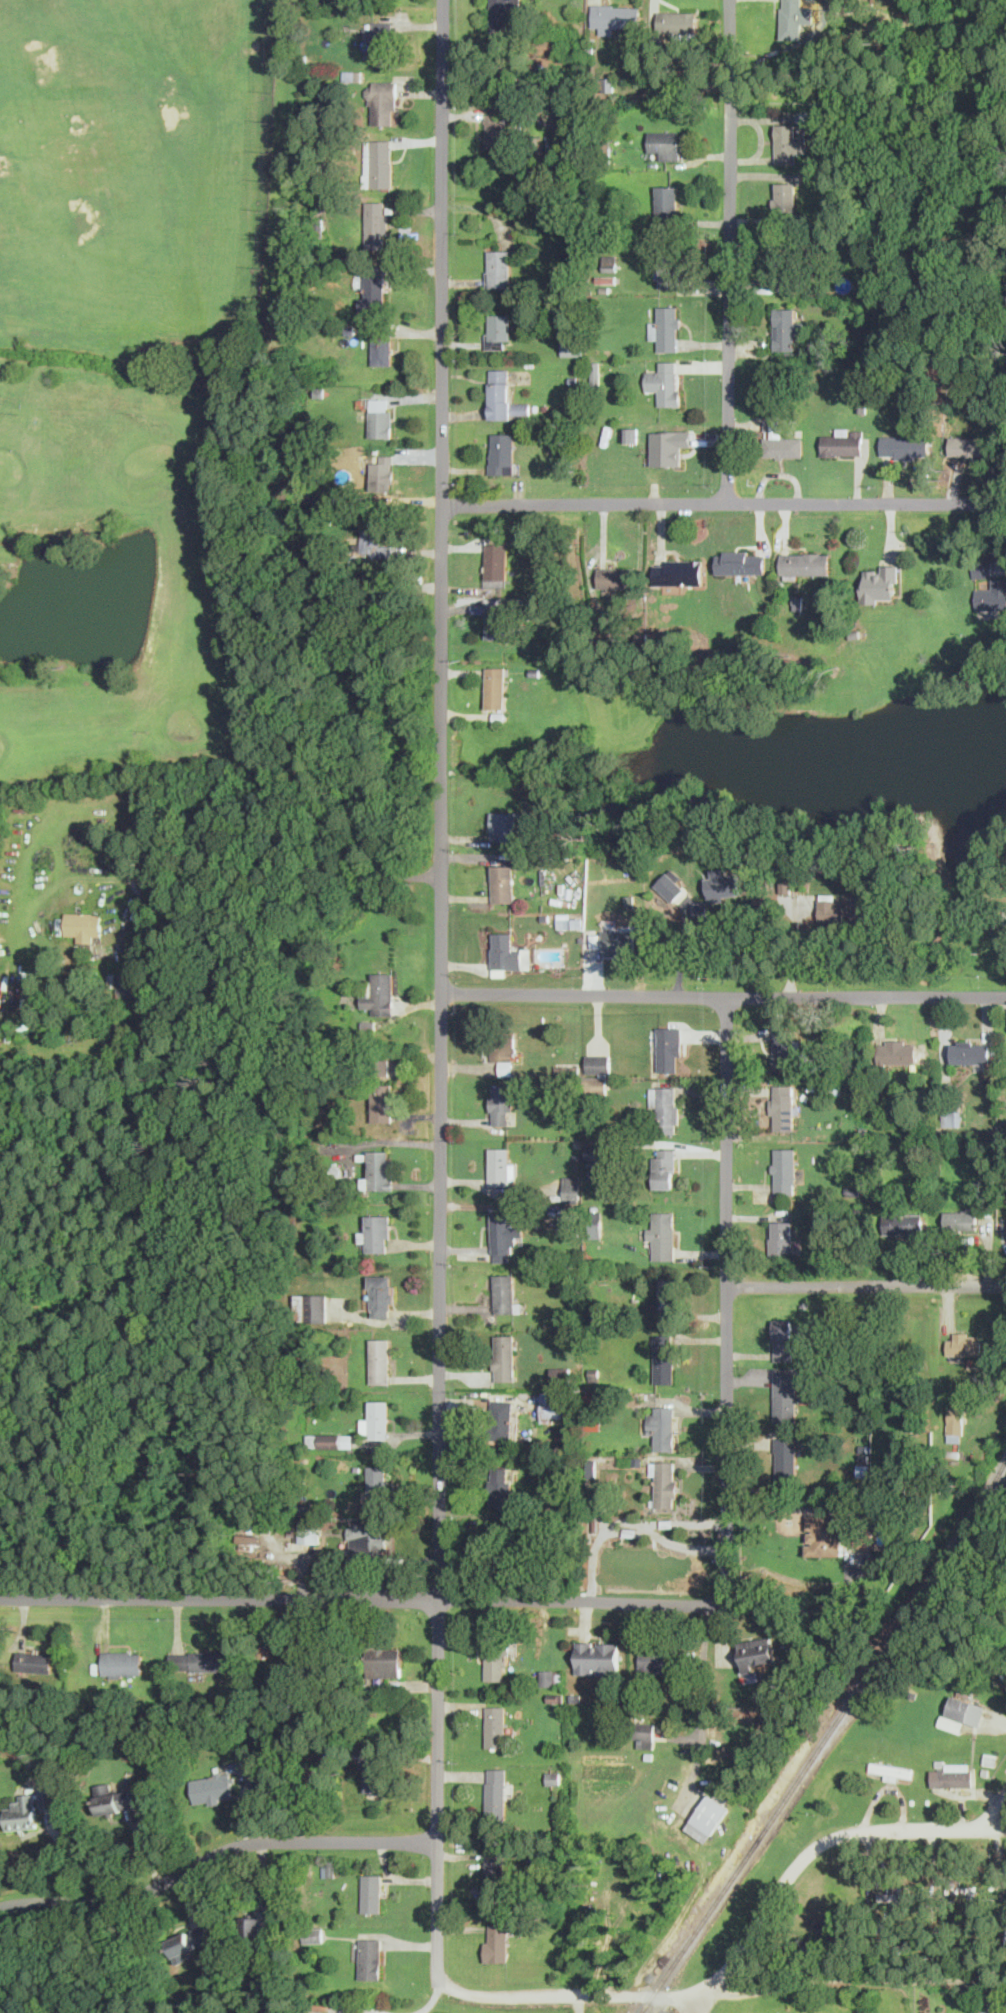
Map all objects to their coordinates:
building: (502, 15)
building: (616, 16)
building: (792, 19)
building: (678, 21)
building: (378, 38)
building: (383, 102)
building: (564, 121)
building: (496, 132)
building: (664, 143)
building: (789, 143)
building: (381, 163)
building: (785, 195)
building: (667, 199)
building: (376, 224)
road: (732, 251)
building: (499, 267)
building: (788, 267)
building: (668, 269)
building: (872, 274)
building: (374, 290)
building: (666, 328)
building: (787, 328)
building: (499, 330)
building: (572, 345)
building: (382, 347)
building: (595, 372)
building: (665, 382)
building: (504, 396)
building: (380, 417)
building: (549, 431)
building: (630, 434)
building: (781, 439)
building: (843, 441)
building: (968, 445)
building: (669, 446)
building: (905, 446)
building: (502, 453)
building: (383, 472)
road: (725, 503)
building: (373, 541)
building: (741, 562)
building: (496, 563)
building: (804, 563)
building: (982, 568)
building: (678, 572)
building: (616, 578)
building: (881, 583)
building: (992, 595)
building: (496, 621)
building: (496, 687)
building: (504, 825)
road: (267, 832)
building: (502, 882)
building: (668, 884)
building: (722, 885)
building: (847, 909)
building: (84, 925)
building: (618, 940)
building: (508, 952)
building: (125, 985)
building: (380, 993)
road: (724, 995)
road: (443, 998)
building: (0, 1026)
building: (21, 1028)
building: (504, 1046)
building: (669, 1048)
building: (784, 1050)
building: (969, 1051)
building: (901, 1053)
building: (598, 1062)
building: (599, 1084)
building: (382, 1101)
building: (502, 1103)
building: (665, 1107)
building: (783, 1107)
building: (958, 1117)
building: (595, 1151)
building: (664, 1165)
building: (501, 1167)
building: (784, 1169)
building: (379, 1170)
building: (572, 1185)
building: (961, 1218)
building: (859, 1220)
building: (903, 1223)
building: (377, 1233)
building: (504, 1234)
building: (662, 1237)
building: (782, 1237)
road: (866, 1285)
building: (505, 1293)
building: (379, 1295)
building: (668, 1298)
road: (727, 1298)
building: (311, 1307)
building: (599, 1313)
building: (783, 1339)
building: (964, 1343)
building: (664, 1352)
building: (505, 1357)
building: (380, 1360)
building: (561, 1374)
building: (788, 1394)
building: (552, 1406)
building: (505, 1418)
building: (378, 1419)
building: (955, 1424)
building: (662, 1426)
building: (330, 1440)
building: (786, 1458)
building: (377, 1482)
building: (665, 1483)
building: (500, 1487)
road: (628, 1521)
building: (310, 1532)
building: (832, 1533)
building: (368, 1537)
road: (681, 1544)
road: (359, 1596)
building: (756, 1653)
building: (598, 1657)
building: (310, 1658)
building: (657, 1660)
building: (35, 1661)
building: (198, 1661)
building: (121, 1662)
building: (383, 1662)
building: (496, 1662)
building: (552, 1676)
road: (703, 1699)
building: (965, 1710)
building: (951, 1723)
building: (495, 1725)
building: (645, 1735)
railway: (825, 1737)
building: (892, 1770)
building: (375, 1775)
building: (952, 1775)
building: (213, 1788)
building: (496, 1792)
building: (48, 1797)
building: (112, 1799)
building: (22, 1812)
road: (997, 1812)
building: (707, 1818)
road: (214, 1854)
building: (495, 1868)
building: (958, 1891)
building: (372, 1892)
building: (897, 1895)
building: (831, 1919)
building: (254, 1927)
building: (313, 1935)
building: (189, 1941)
building: (497, 1941)
road: (745, 1944)
building: (370, 1957)
road: (851, 1977)
road: (432, 2000)
road: (580, 2002)
road: (703, 2004)

